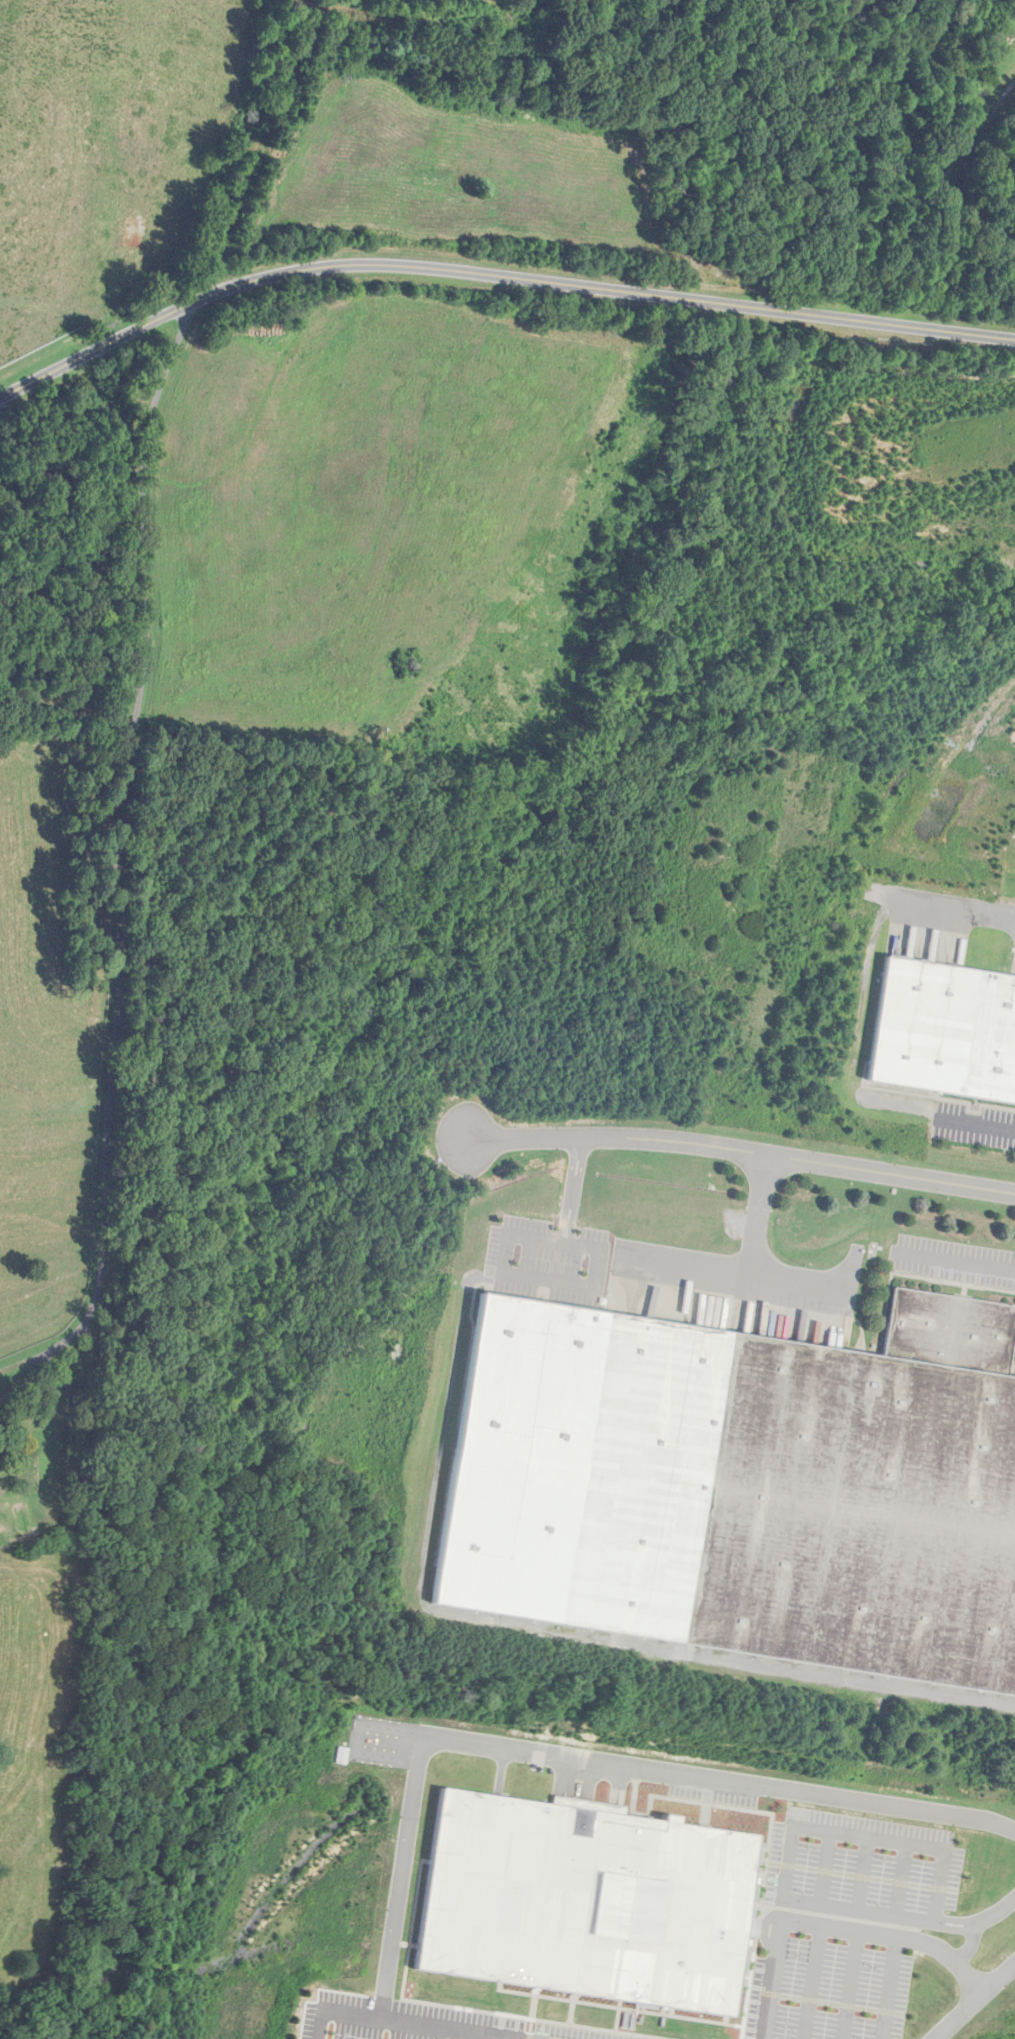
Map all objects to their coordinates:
road: (494, 276)
road: (117, 867)
road: (953, 912)
building: (944, 1032)
road: (979, 1123)
road: (743, 1150)
road: (565, 1190)
road: (753, 1212)
road: (952, 1263)
road: (740, 1271)
road: (531, 1284)
building: (801, 1468)
road: (565, 1754)
building: (593, 1908)
building: (1007, 1936)
road: (972, 1941)
road: (974, 2001)

